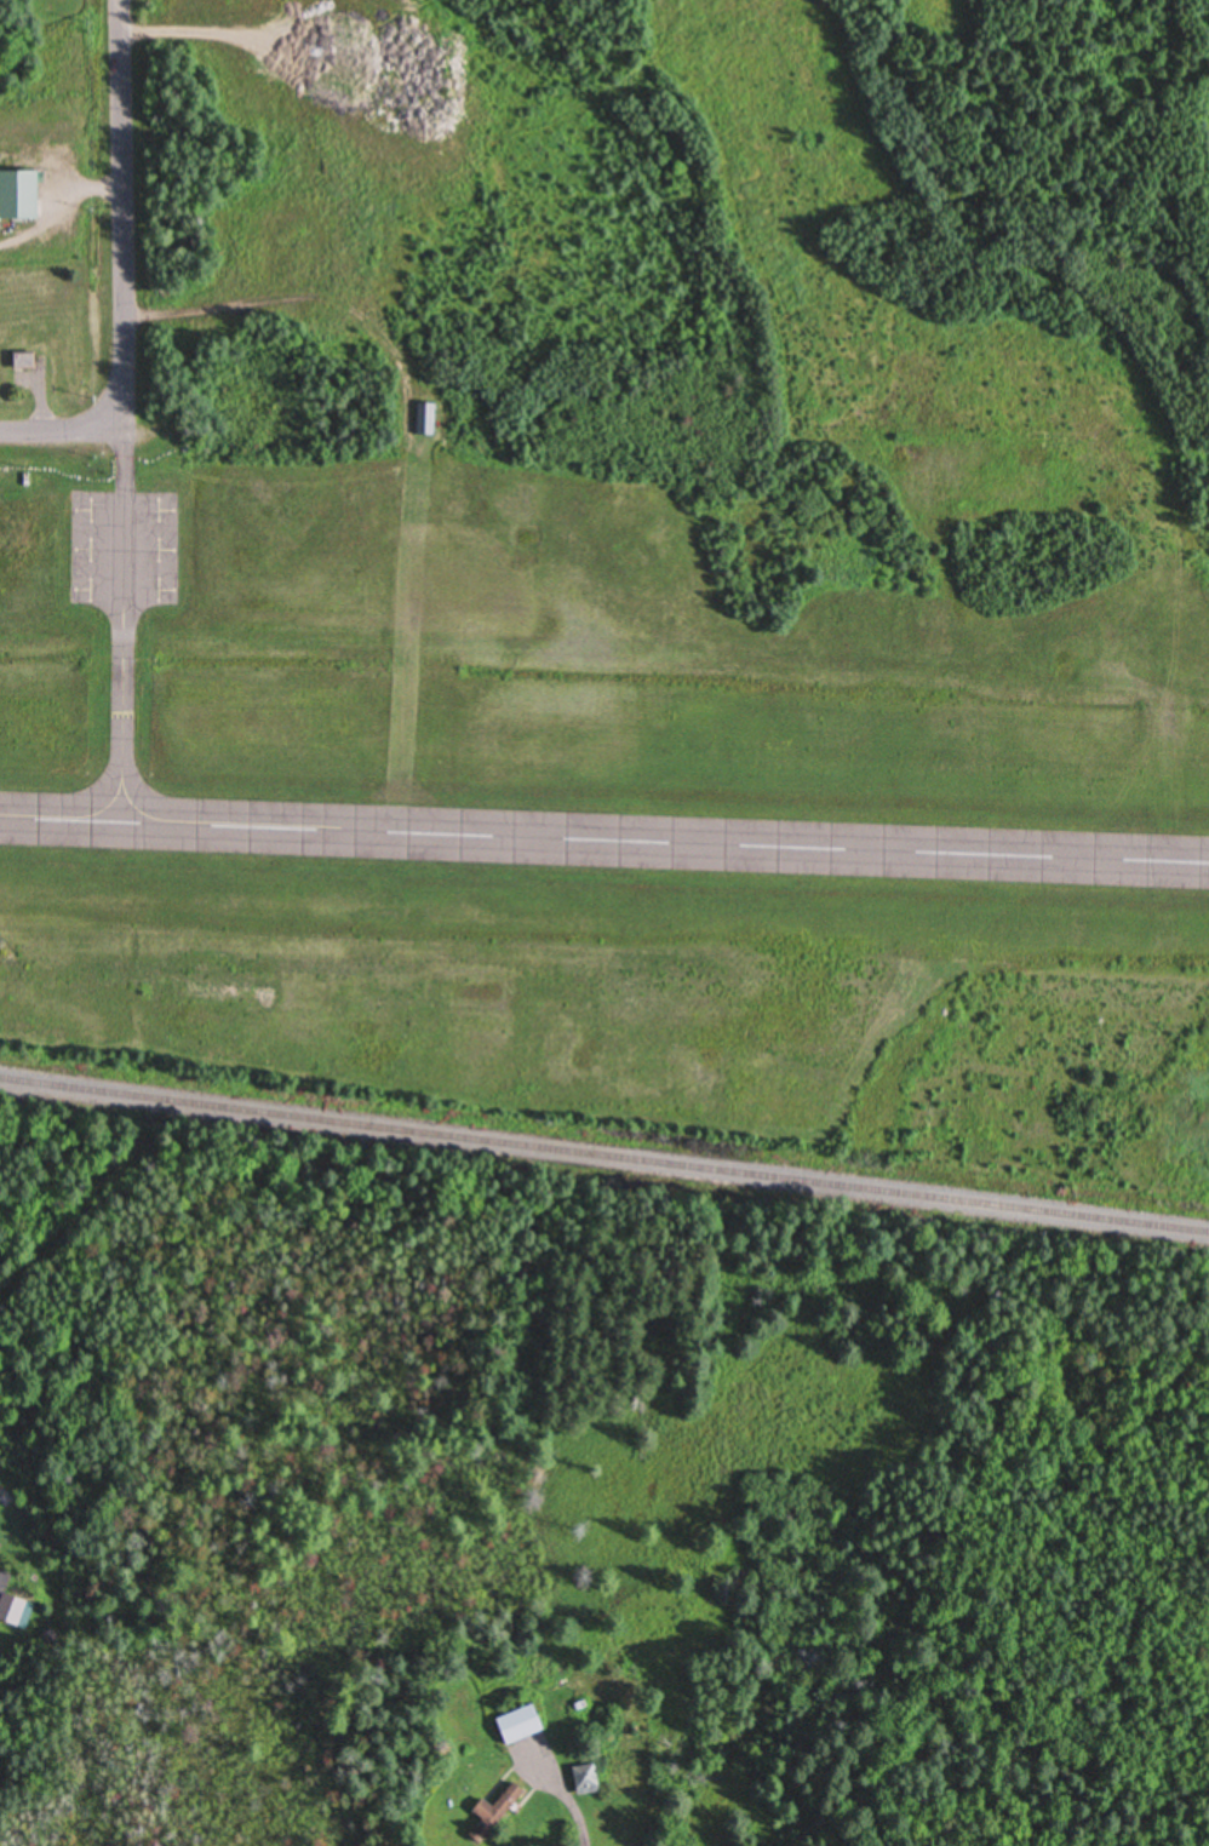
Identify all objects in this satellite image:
park: (53, 48)
park: (890, 127)
building: (16, 197)
road: (124, 213)
building: (21, 363)
road: (63, 430)
airport apron: (124, 549)
airport: (581, 552)
airport taxiway: (125, 625)
airport runway: (603, 841)
park: (676, 1047)
railway: (603, 1157)
building: (11, 1611)
building: (516, 1726)
building: (583, 1779)
building: (491, 1813)

